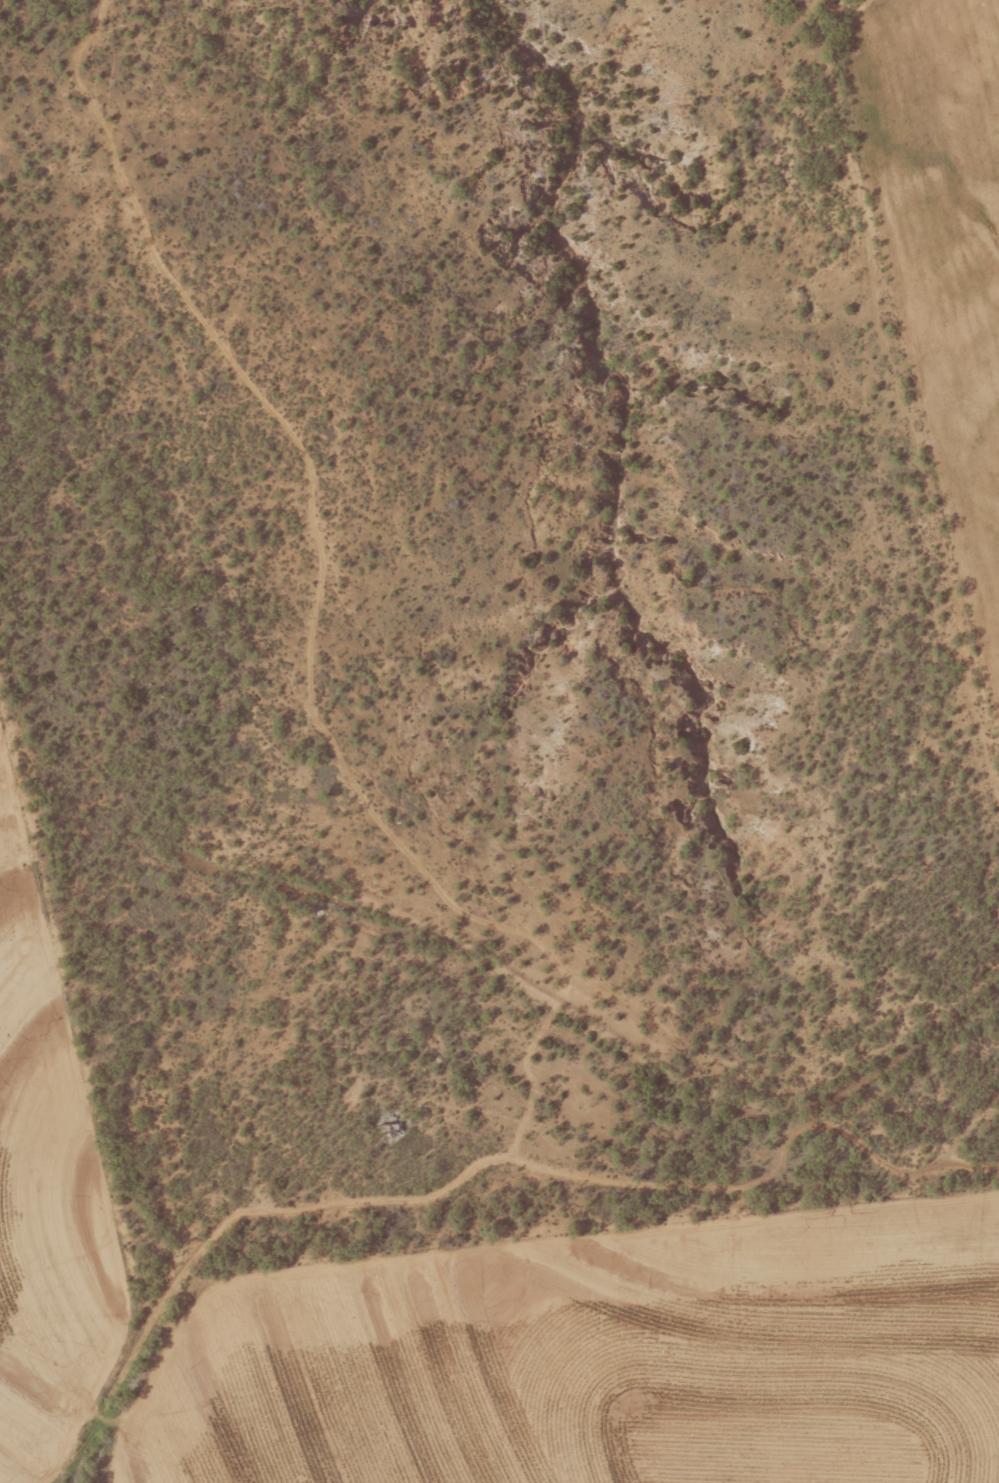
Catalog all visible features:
road: (233, 792)

